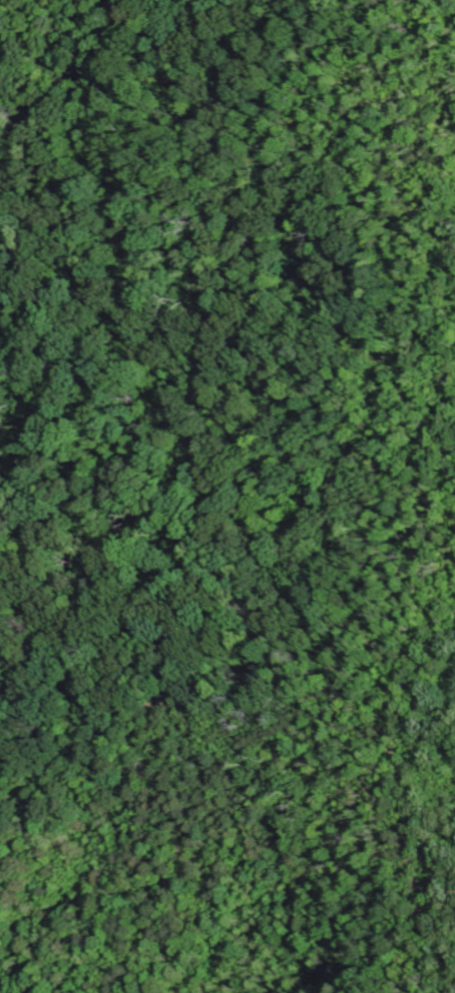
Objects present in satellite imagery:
road: (437, 503)

